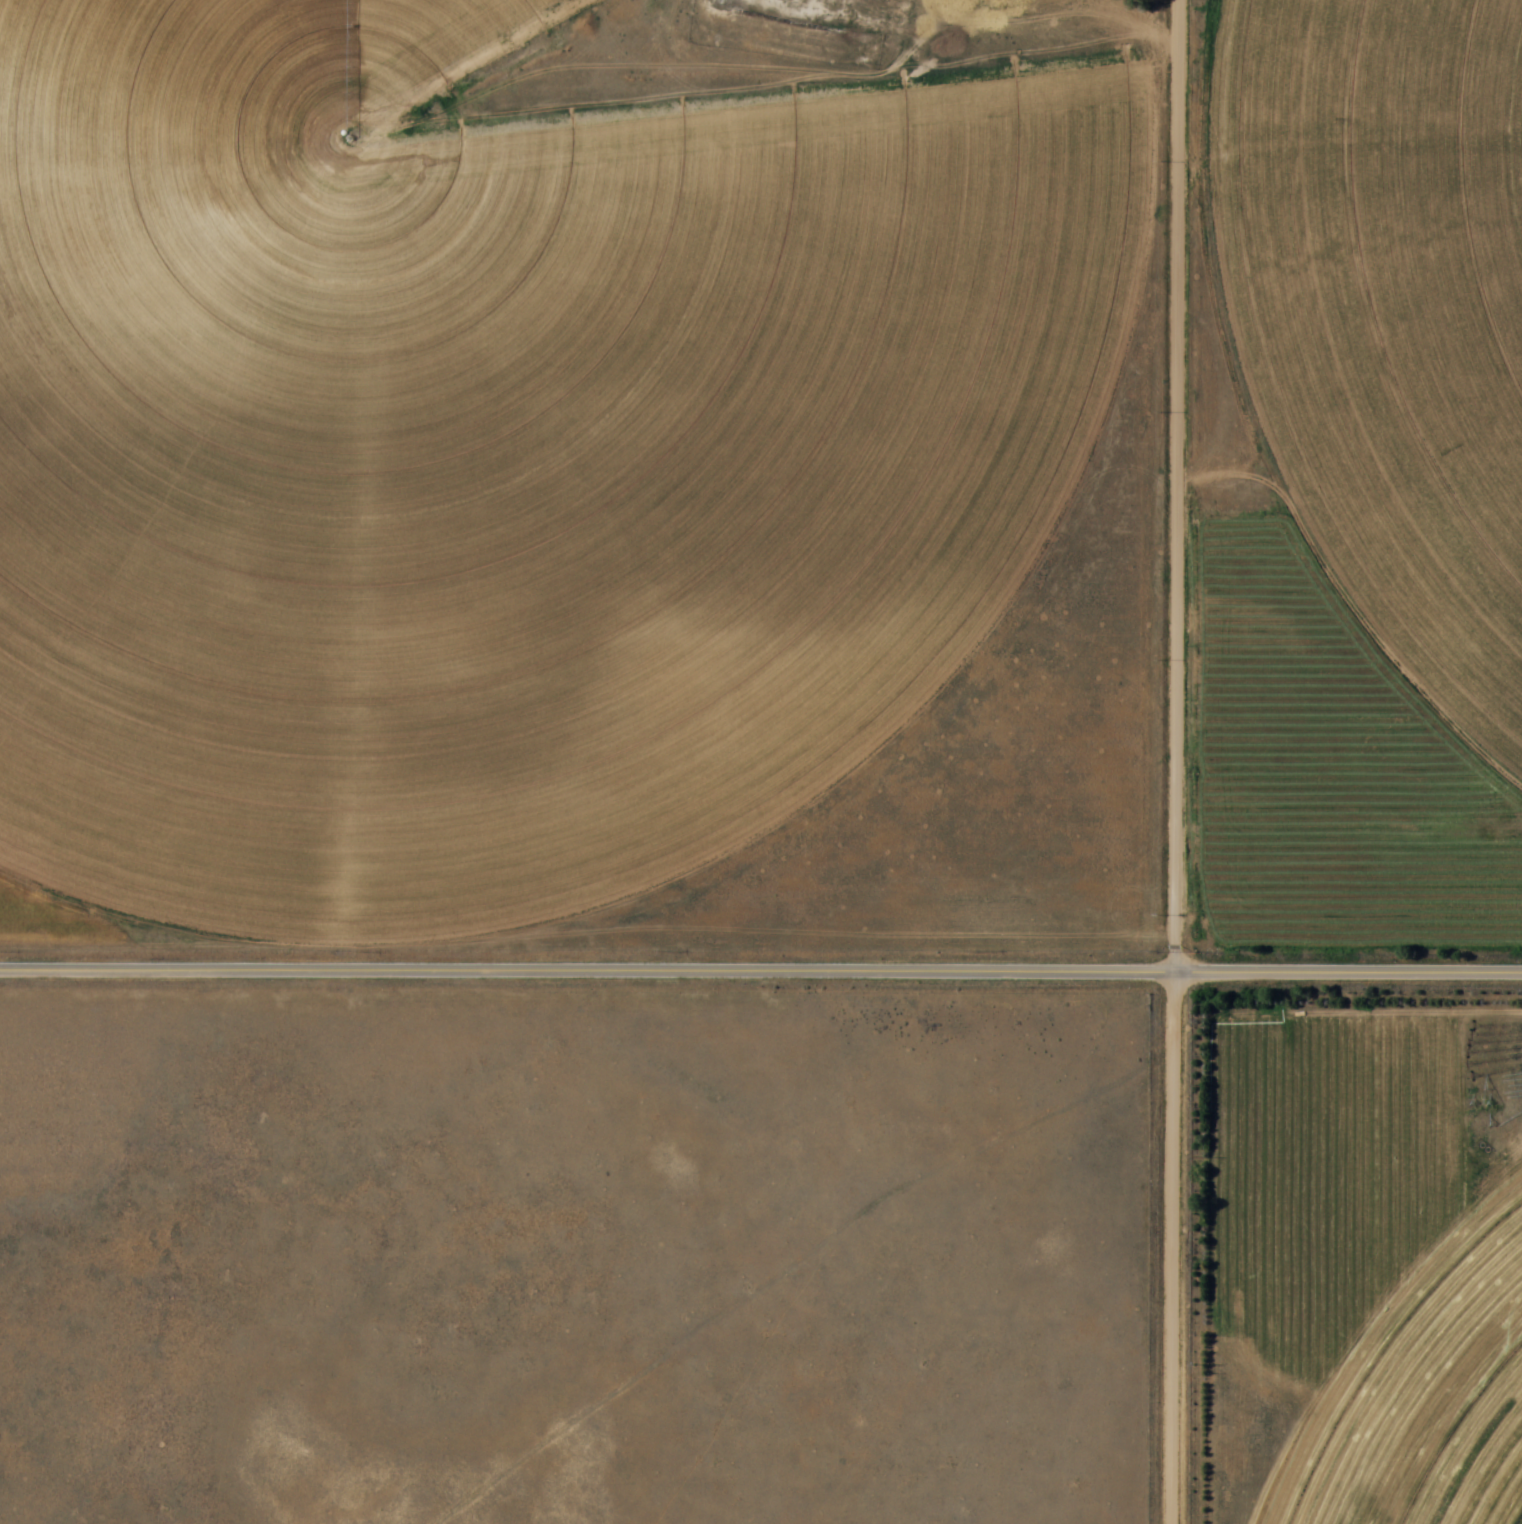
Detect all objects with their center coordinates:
road: (1176, 761)
road: (761, 970)

